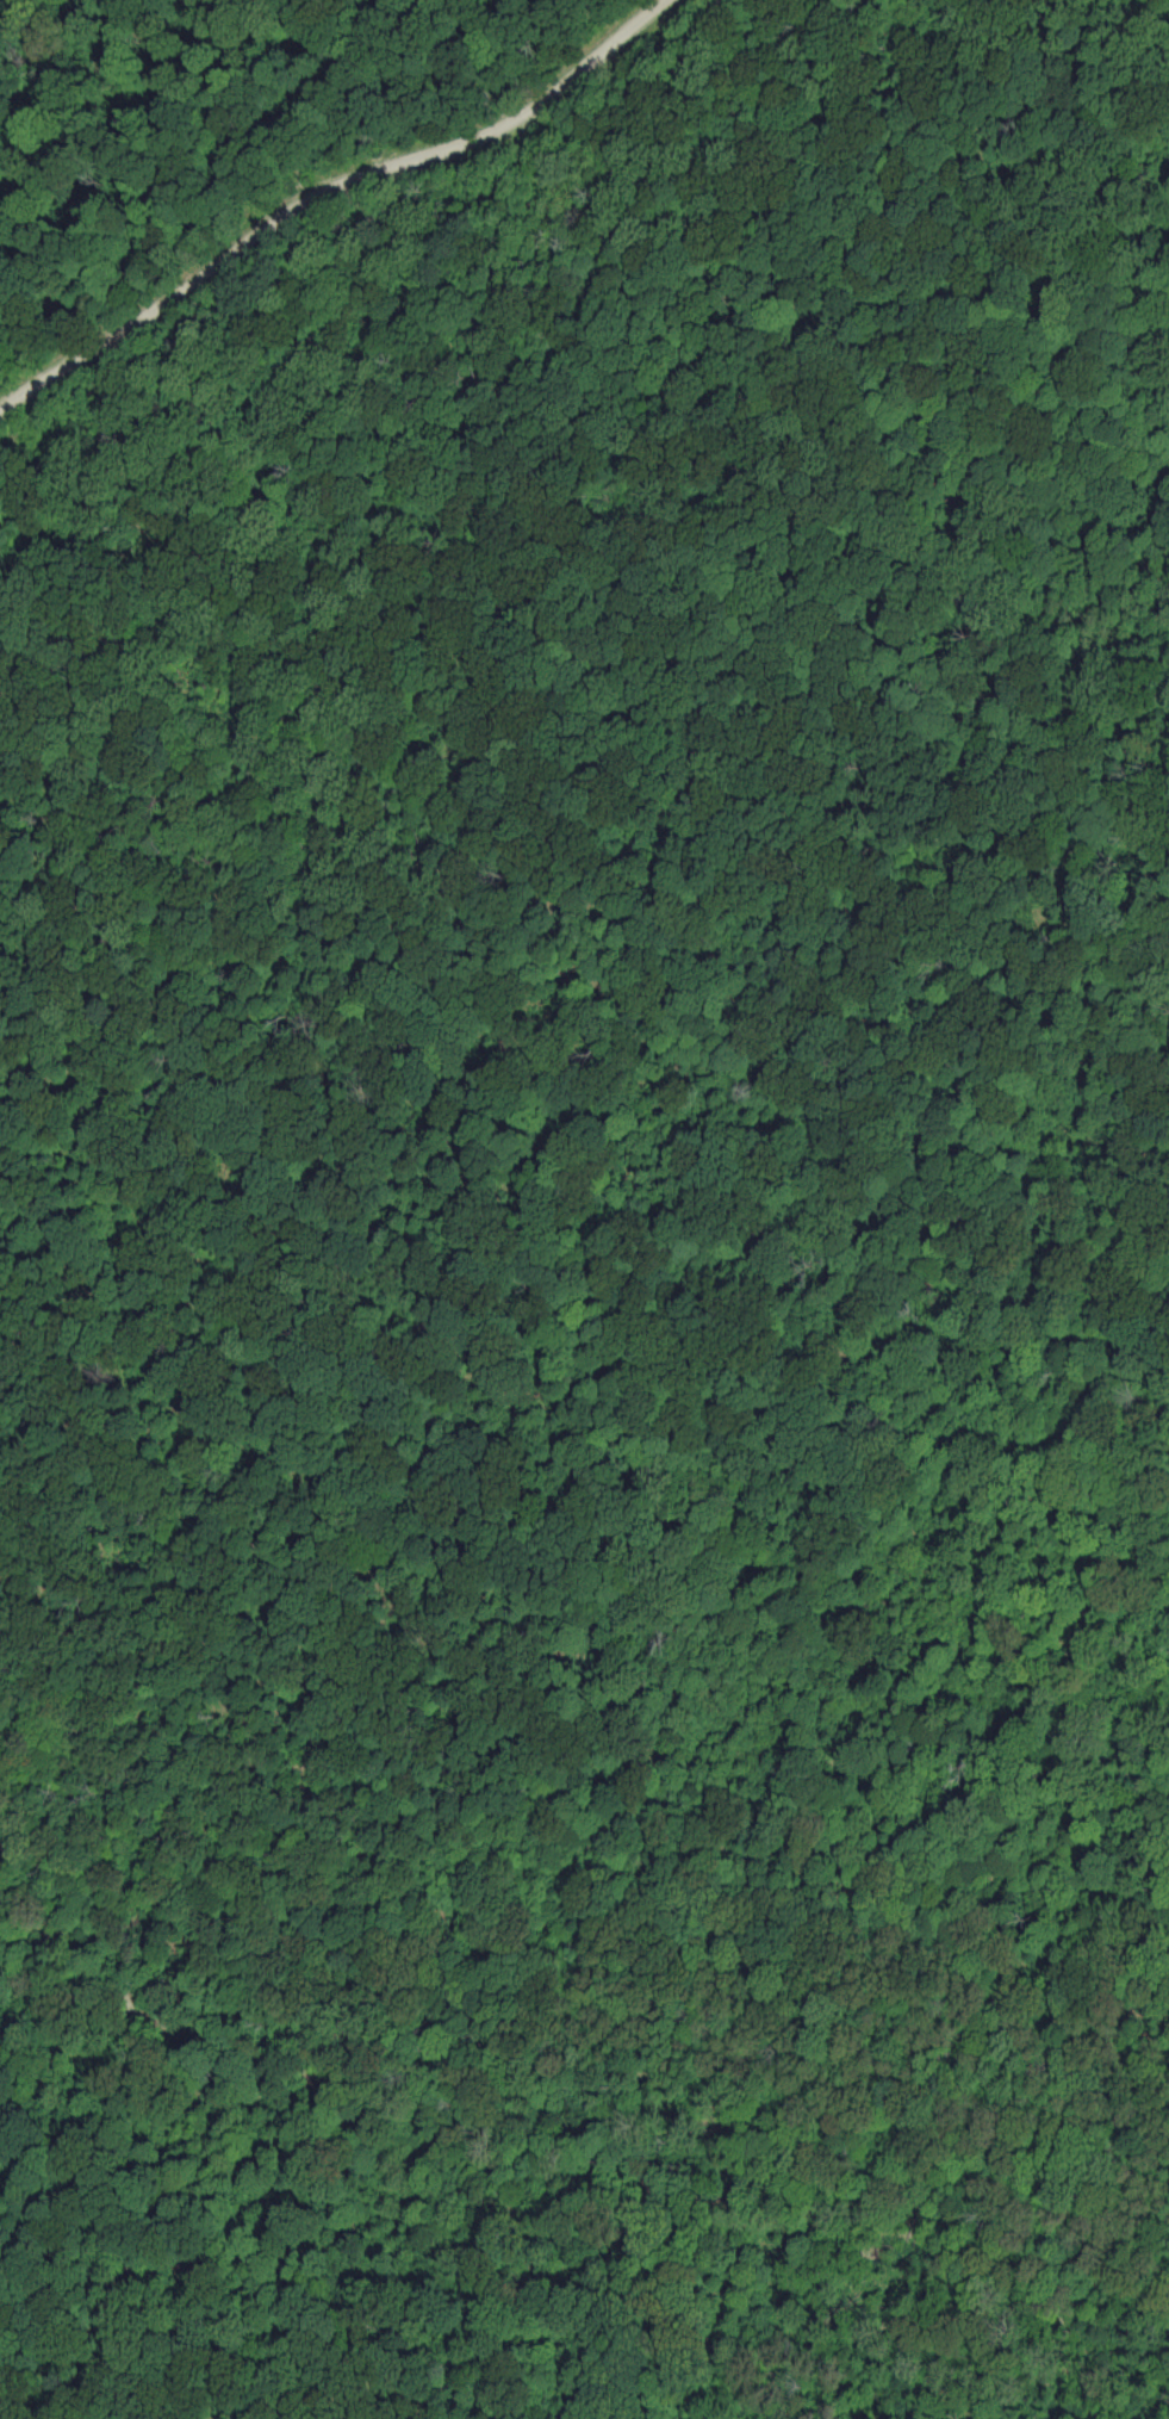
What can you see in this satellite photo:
road: (330, 198)

